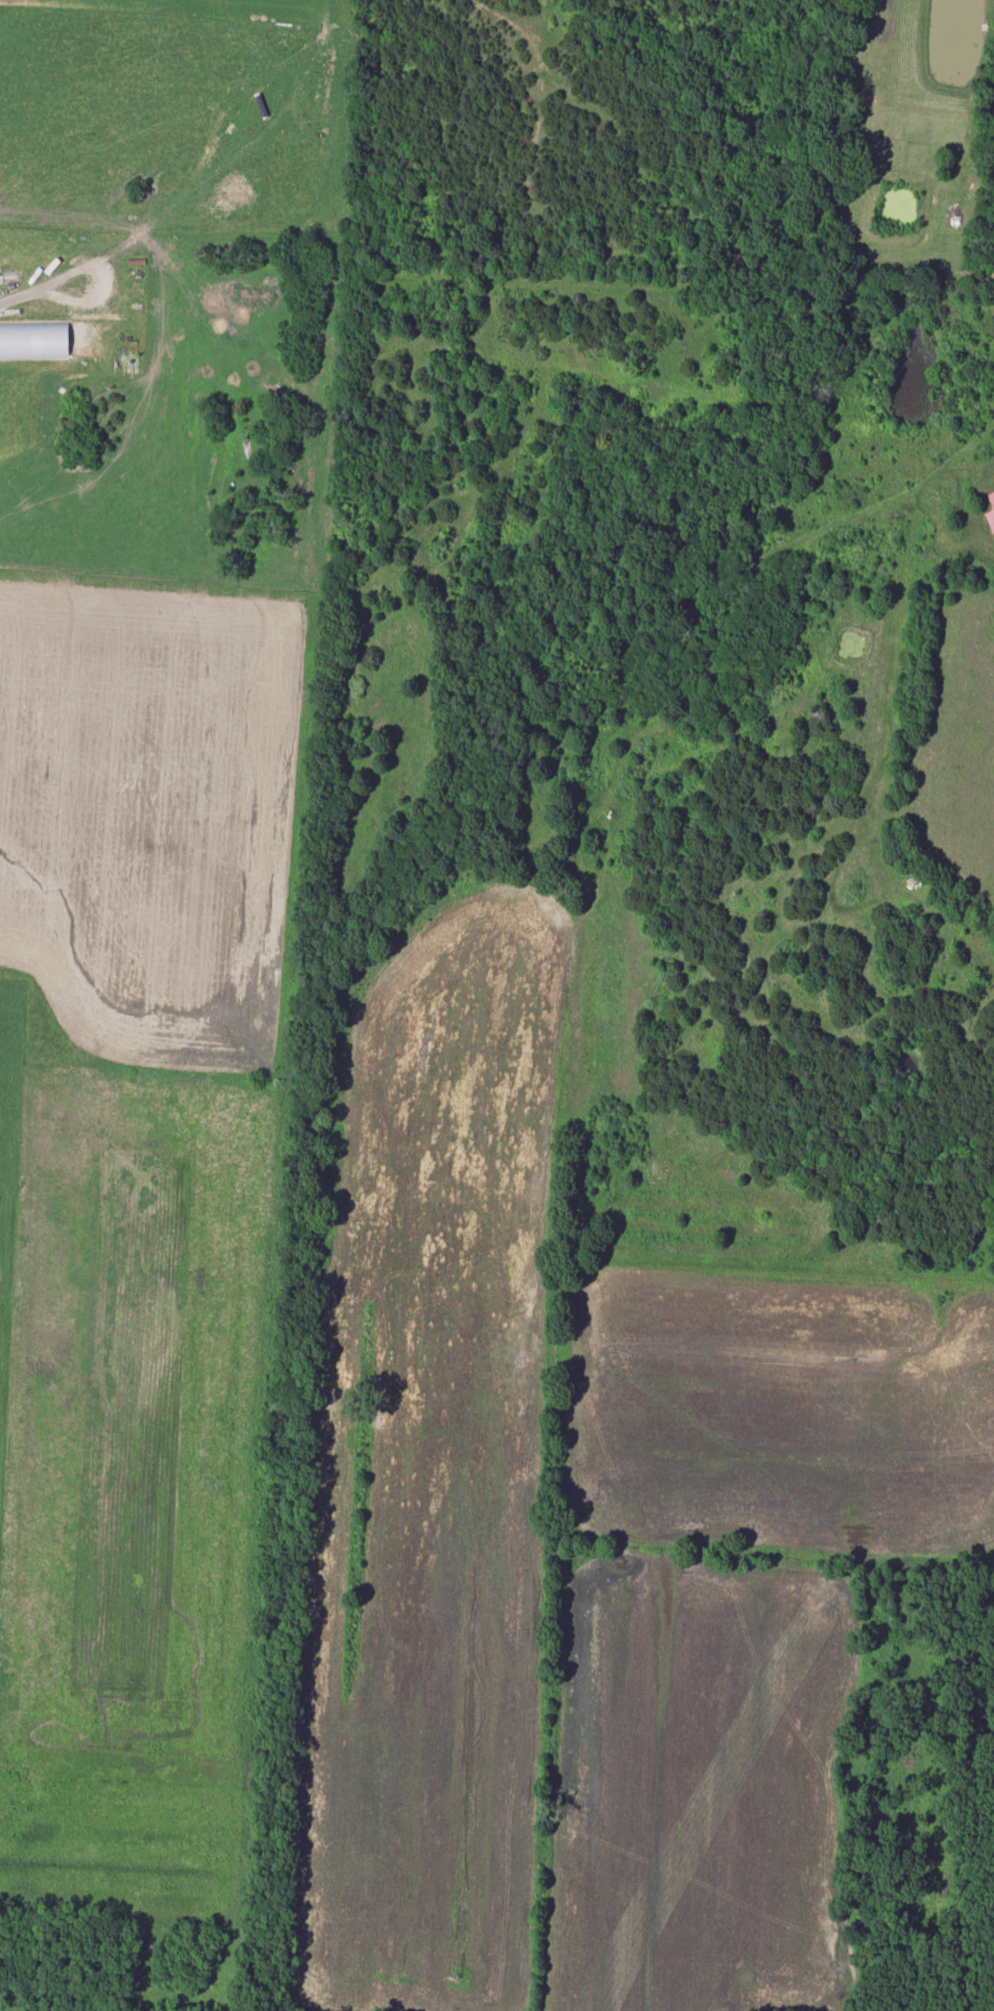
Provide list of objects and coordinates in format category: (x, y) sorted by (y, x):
building: (33, 341)

